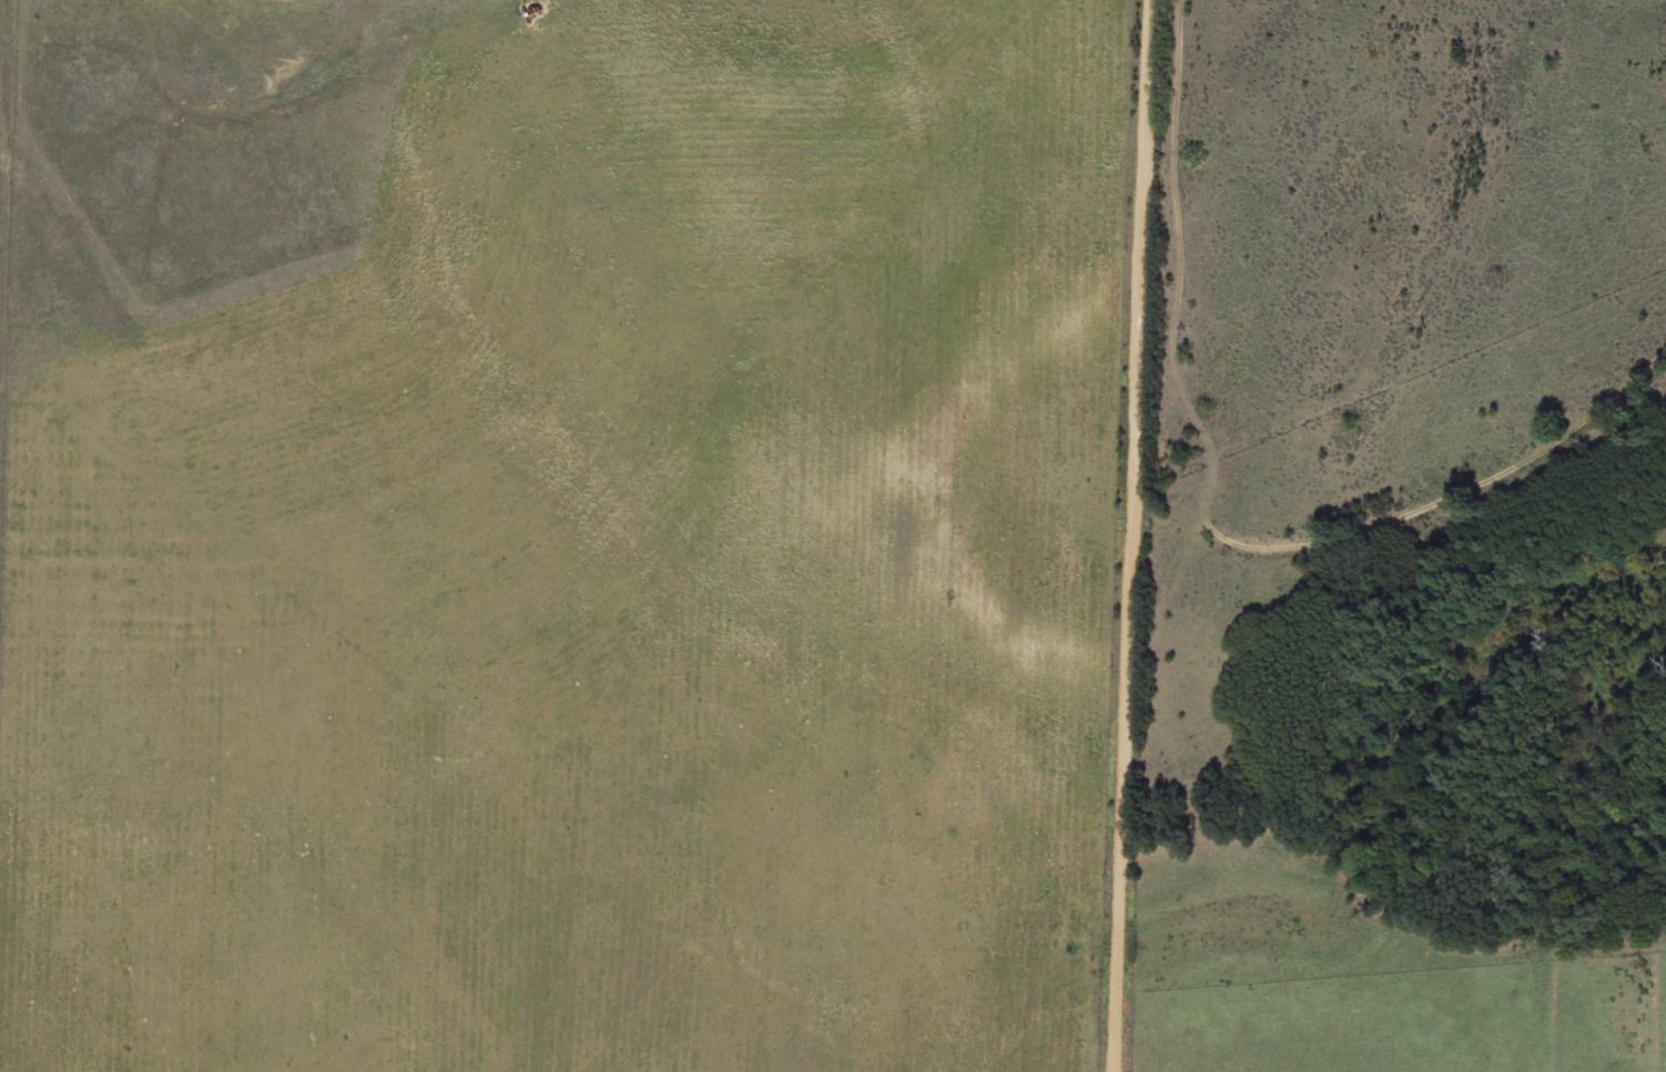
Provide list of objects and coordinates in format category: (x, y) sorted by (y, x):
road: (1443, 487)
road: (1134, 535)

